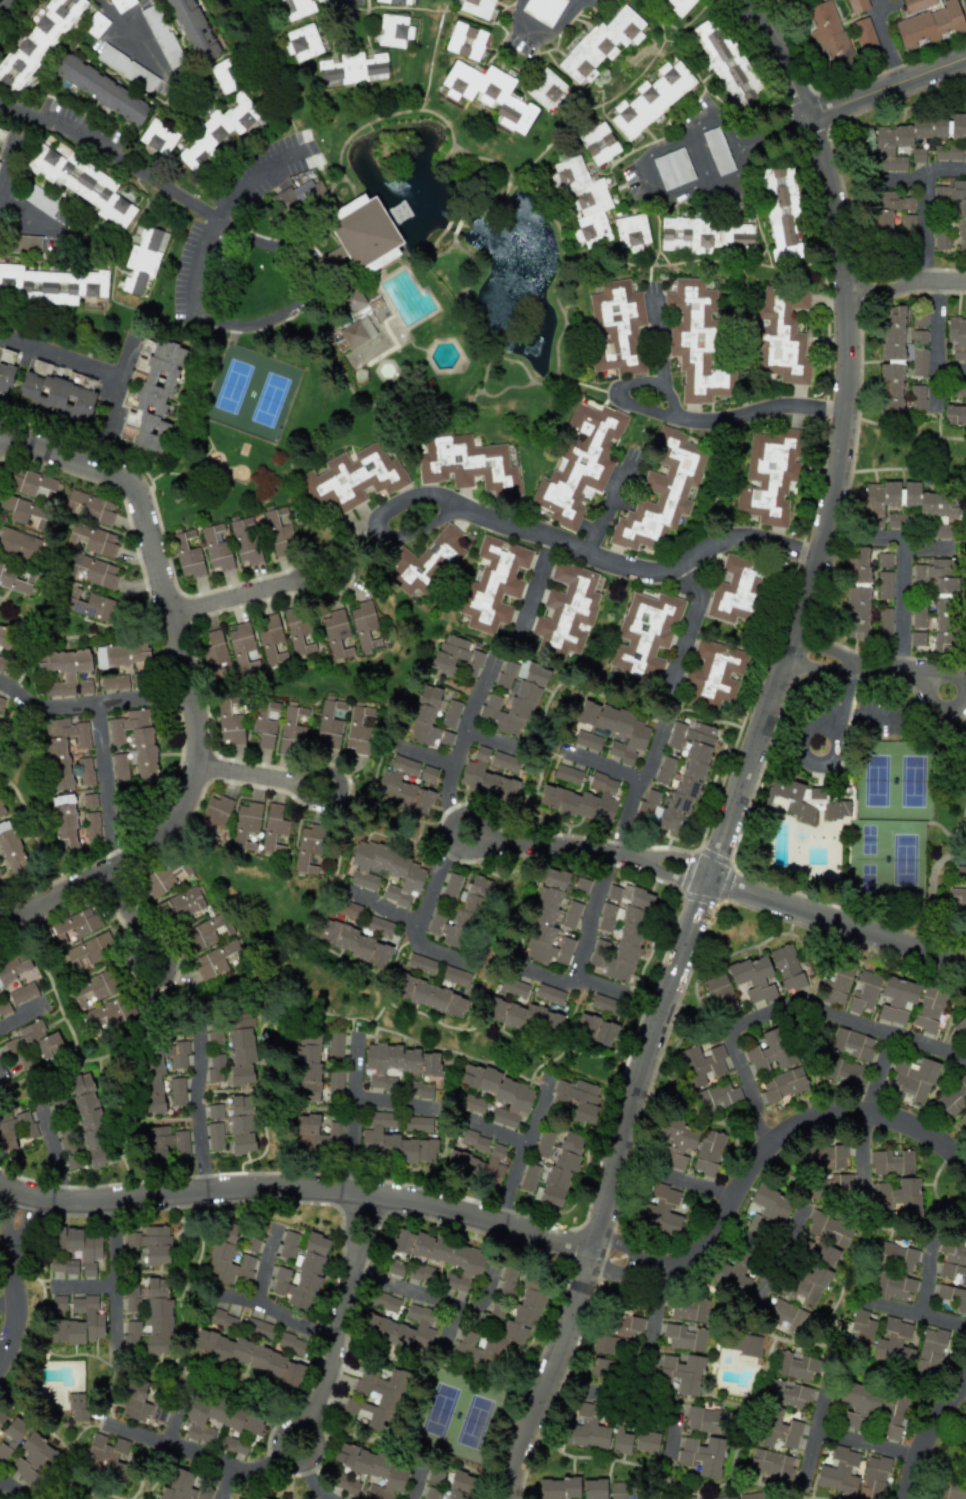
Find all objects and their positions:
building: (775, 0)
road: (0, 1)
road: (878, 1)
building: (396, 2)
building: (965, 2)
building: (121, 4)
building: (917, 4)
building: (680, 5)
building: (857, 5)
building: (479, 8)
building: (291, 9)
building: (542, 10)
building: (96, 25)
building: (930, 25)
building: (193, 29)
building: (393, 31)
building: (864, 34)
road: (541, 35)
building: (828, 35)
road: (128, 36)
building: (162, 36)
building: (465, 41)
road: (885, 41)
building: (302, 42)
building: (37, 43)
building: (601, 45)
building: (726, 63)
building: (127, 68)
building: (353, 68)
building: (225, 76)
road: (888, 87)
building: (101, 89)
building: (547, 90)
building: (489, 94)
building: (652, 98)
road: (699, 120)
road: (730, 124)
road: (779, 128)
building: (220, 130)
building: (2, 132)
building: (158, 137)
building: (598, 143)
building: (893, 143)
road: (662, 147)
building: (717, 151)
building: (965, 151)
road: (109, 152)
building: (947, 152)
road: (698, 159)
road: (741, 159)
road: (6, 166)
building: (673, 168)
road: (642, 175)
road: (901, 180)
building: (82, 183)
road: (707, 187)
road: (663, 192)
building: (297, 196)
building: (584, 199)
building: (41, 200)
road: (225, 204)
road: (922, 205)
building: (888, 209)
building: (781, 212)
road: (31, 214)
building: (907, 222)
building: (631, 232)
building: (365, 233)
building: (705, 235)
road: (261, 241)
building: (24, 243)
building: (331, 257)
building: (142, 258)
road: (315, 266)
road: (905, 278)
building: (51, 283)
building: (352, 299)
building: (919, 319)
road: (267, 321)
building: (617, 328)
building: (357, 332)
building: (782, 336)
building: (919, 337)
building: (957, 337)
road: (658, 340)
building: (696, 341)
road: (934, 342)
road: (59, 357)
building: (892, 359)
building: (918, 362)
road: (950, 368)
building: (6, 369)
building: (958, 388)
park: (251, 392)
building: (155, 393)
road: (113, 394)
building: (954, 414)
road: (684, 418)
building: (467, 463)
building: (579, 464)
building: (769, 477)
building: (353, 478)
building: (32, 483)
building: (661, 492)
road: (611, 502)
building: (910, 505)
building: (89, 507)
building: (25, 511)
building: (897, 520)
building: (279, 531)
road: (547, 534)
road: (887, 537)
building: (92, 539)
building: (244, 541)
building: (19, 544)
building: (215, 547)
building: (187, 556)
building: (425, 560)
building: (883, 560)
building: (97, 572)
building: (15, 579)
building: (493, 584)
road: (534, 585)
building: (884, 585)
building: (735, 589)
road: (248, 594)
building: (858, 596)
road: (900, 605)
building: (94, 607)
building: (566, 611)
building: (943, 612)
building: (918, 616)
building: (884, 622)
building: (363, 624)
road: (690, 625)
building: (297, 631)
building: (335, 632)
building: (645, 634)
building: (6, 636)
building: (271, 639)
building: (242, 647)
building: (215, 655)
building: (456, 655)
building: (123, 656)
building: (1, 663)
road: (867, 667)
building: (66, 671)
building: (713, 674)
road: (185, 681)
building: (114, 682)
road: (955, 690)
building: (513, 697)
road: (91, 701)
building: (1, 703)
road: (841, 708)
building: (432, 717)
building: (228, 720)
building: (264, 722)
building: (0, 723)
building: (328, 724)
building: (358, 729)
building: (615, 729)
road: (809, 730)
building: (293, 731)
road: (461, 735)
road: (492, 740)
building: (587, 740)
building: (134, 746)
building: (64, 748)
road: (751, 752)
road: (424, 756)
building: (504, 762)
road: (603, 764)
building: (664, 770)
building: (85, 771)
building: (686, 771)
building: (428, 774)
building: (567, 774)
road: (261, 776)
building: (485, 778)
road: (107, 783)
building: (402, 787)
road: (636, 788)
building: (582, 799)
building: (89, 800)
building: (804, 800)
building: (648, 802)
building: (215, 810)
building: (1, 811)
park: (890, 820)
building: (65, 822)
road: (449, 825)
building: (246, 826)
building: (91, 827)
building: (273, 828)
building: (308, 847)
building: (10, 849)
building: (960, 870)
building: (386, 873)
building: (163, 875)
building: (582, 884)
building: (451, 886)
road: (727, 886)
road: (430, 887)
building: (957, 899)
building: (180, 904)
road: (381, 905)
road: (590, 914)
building: (571, 915)
road: (131, 920)
building: (546, 920)
building: (74, 923)
road: (0, 924)
building: (620, 931)
building: (207, 932)
building: (347, 942)
building: (89, 951)
road: (440, 953)
building: (219, 958)
building: (421, 964)
building: (12, 968)
building: (787, 968)
building: (456, 976)
building: (753, 978)
road: (574, 980)
building: (836, 986)
building: (514, 987)
building: (23, 993)
building: (549, 994)
building: (721, 995)
building: (430, 996)
building: (101, 1000)
building: (861, 1001)
building: (897, 1001)
building: (605, 1005)
building: (4, 1008)
building: (524, 1015)
road: (20, 1016)
building: (961, 1026)
building: (595, 1029)
road: (894, 1033)
building: (214, 1038)
building: (35, 1039)
building: (852, 1044)
building: (241, 1046)
building: (335, 1046)
building: (397, 1063)
building: (700, 1064)
building: (214, 1067)
building: (307, 1067)
building: (844, 1072)
building: (158, 1073)
road: (197, 1081)
building: (911, 1081)
road: (746, 1083)
building: (783, 1084)
building: (419, 1089)
building: (177, 1091)
building: (499, 1094)
building: (716, 1096)
building: (953, 1097)
building: (578, 1098)
road: (383, 1100)
building: (473, 1104)
building: (215, 1111)
road: (351, 1115)
building: (963, 1119)
building: (87, 1124)
building: (241, 1124)
building: (417, 1124)
building: (16, 1128)
building: (315, 1132)
road: (495, 1133)
building: (215, 1136)
building: (474, 1140)
building: (392, 1141)
building: (166, 1142)
building: (674, 1143)
building: (543, 1144)
road: (521, 1152)
building: (708, 1152)
building: (825, 1156)
road: (54, 1158)
road: (864, 1160)
building: (891, 1162)
building: (477, 1165)
road: (762, 1168)
building: (559, 1169)
building: (529, 1177)
building: (830, 1184)
road: (701, 1185)
road: (299, 1187)
building: (898, 1197)
building: (767, 1208)
building: (659, 1211)
building: (829, 1229)
building: (147, 1244)
building: (79, 1245)
road: (113, 1245)
building: (287, 1245)
building: (222, 1247)
road: (0, 1249)
building: (826, 1255)
building: (894, 1255)
building: (443, 1256)
building: (953, 1261)
building: (62, 1268)
building: (396, 1268)
building: (734, 1269)
building: (302, 1274)
building: (507, 1280)
road: (924, 1280)
building: (804, 1285)
building: (893, 1286)
road: (107, 1289)
road: (415, 1294)
building: (953, 1297)
road: (267, 1302)
building: (385, 1302)
building: (58, 1303)
road: (2, 1308)
building: (689, 1308)
building: (786, 1315)
road: (912, 1316)
building: (149, 1317)
building: (221, 1319)
road: (3, 1322)
building: (79, 1322)
road: (341, 1323)
building: (863, 1325)
building: (623, 1326)
building: (257, 1327)
building: (401, 1327)
building: (502, 1328)
building: (684, 1337)
building: (290, 1343)
building: (893, 1343)
building: (744, 1344)
building: (607, 1345)
building: (930, 1351)
building: (248, 1356)
building: (796, 1365)
building: (602, 1369)
road: (646, 1370)
building: (679, 1373)
road: (965, 1387)
building: (788, 1394)
road: (611, 1396)
building: (374, 1397)
building: (142, 1403)
building: (76, 1407)
building: (873, 1409)
park: (456, 1414)
building: (2, 1418)
building: (218, 1418)
building: (706, 1420)
building: (586, 1428)
building: (777, 1429)
road: (813, 1429)
road: (924, 1436)
building: (10, 1437)
building: (962, 1438)
building: (621, 1440)
building: (646, 1442)
road: (864, 1442)
building: (233, 1445)
building: (105, 1456)
building: (702, 1456)
road: (203, 1459)
building: (33, 1460)
building: (771, 1465)
building: (374, 1470)
building: (839, 1472)
building: (873, 1477)
road: (416, 1482)
road: (225, 1483)
building: (346, 1484)
building: (184, 1487)
building: (558, 1488)
building: (594, 1489)
building: (950, 1489)
building: (622, 1490)
building: (754, 1495)
building: (725, 1497)
building: (235, 1498)
building: (261, 1498)
building: (675, 1498)

